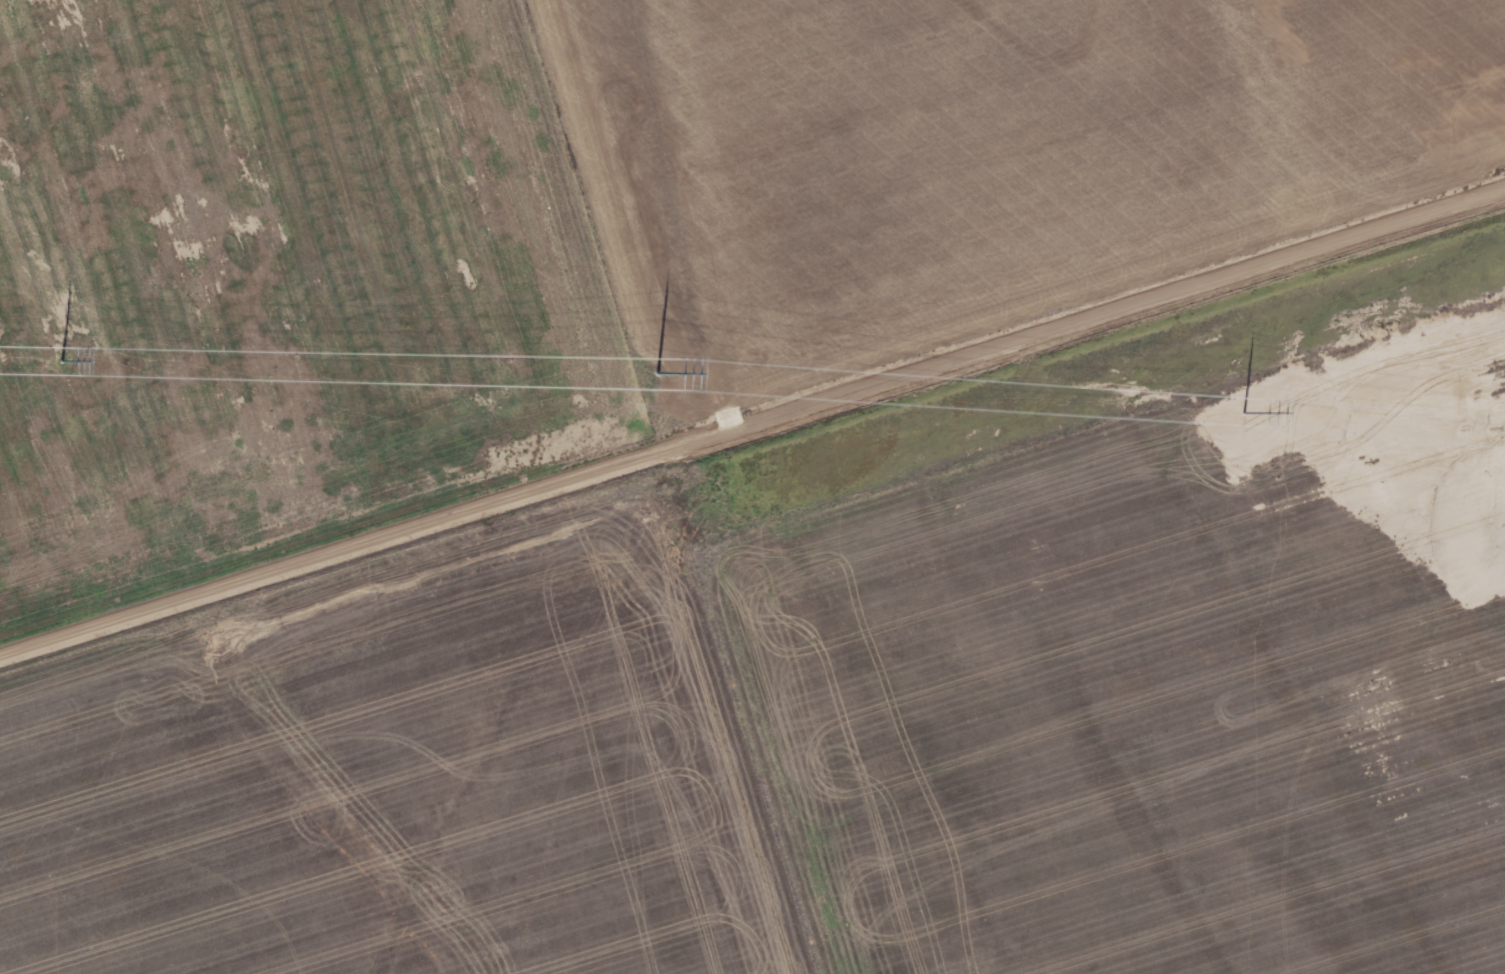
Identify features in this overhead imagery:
power tower: (64, 360)
power tower: (658, 372)
power tower: (1244, 412)
road: (751, 419)

